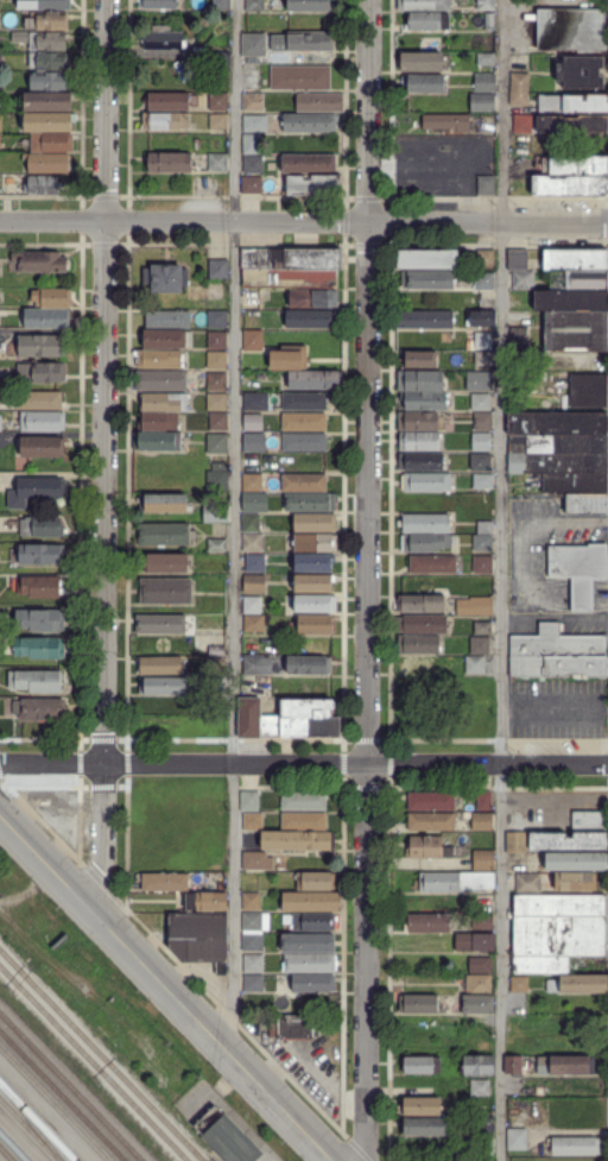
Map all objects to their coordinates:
building: (157, 2)
building: (44, 4)
building: (254, 4)
building: (222, 5)
building: (311, 5)
building: (423, 5)
building: (486, 5)
building: (46, 20)
building: (427, 21)
building: (488, 21)
building: (572, 30)
parking lot: (520, 32)
building: (43, 39)
building: (161, 40)
building: (277, 42)
building: (309, 42)
building: (255, 44)
building: (0, 58)
building: (484, 58)
building: (49, 61)
building: (218, 61)
building: (420, 62)
building: (581, 71)
building: (300, 77)
building: (50, 81)
building: (0, 82)
building: (484, 82)
building: (425, 84)
building: (519, 89)
building: (49, 101)
building: (166, 101)
building: (217, 101)
building: (254, 101)
building: (481, 101)
building: (319, 102)
building: (574, 103)
building: (165, 120)
building: (49, 121)
building: (217, 121)
building: (0, 122)
building: (255, 122)
building: (309, 122)
building: (445, 122)
building: (524, 124)
building: (572, 124)
building: (51, 143)
building: (252, 144)
building: (214, 160)
building: (47, 163)
building: (170, 163)
building: (309, 163)
building: (253, 164)
building: (576, 165)
building: (8, 184)
building: (43, 184)
building: (249, 184)
building: (313, 184)
building: (486, 185)
building: (569, 185)
parking lot: (559, 206)
road: (303, 220)
building: (291, 258)
building: (575, 258)
building: (426, 259)
building: (486, 259)
building: (517, 259)
building: (39, 261)
building: (216, 269)
building: (164, 278)
building: (289, 278)
building: (427, 279)
building: (484, 279)
building: (522, 279)
building: (578, 280)
building: (51, 297)
building: (251, 298)
building: (312, 298)
building: (571, 301)
building: (46, 317)
building: (480, 317)
building: (215, 318)
building: (308, 318)
building: (167, 320)
building: (423, 320)
building: (574, 332)
building: (166, 339)
building: (215, 339)
building: (482, 339)
building: (518, 339)
building: (251, 340)
building: (42, 346)
building: (419, 358)
building: (482, 358)
building: (158, 359)
building: (286, 359)
building: (215, 360)
building: (40, 372)
building: (313, 379)
building: (160, 380)
building: (419, 380)
building: (215, 381)
building: (479, 381)
building: (588, 390)
building: (39, 400)
building: (215, 400)
building: (254, 400)
building: (424, 400)
building: (480, 400)
building: (164, 402)
building: (304, 402)
building: (0, 417)
building: (252, 419)
building: (42, 421)
building: (158, 421)
building: (217, 421)
building: (417, 421)
building: (482, 421)
building: (303, 422)
building: (558, 423)
building: (418, 440)
building: (158, 441)
building: (304, 441)
building: (254, 442)
building: (481, 442)
building: (216, 443)
building: (558, 443)
building: (40, 447)
road: (103, 460)
building: (419, 461)
building: (479, 461)
building: (558, 462)
building: (218, 466)
building: (216, 480)
building: (482, 480)
building: (252, 481)
building: (425, 481)
building: (303, 482)
building: (575, 482)
building: (33, 491)
building: (254, 500)
building: (163, 501)
building: (310, 501)
building: (587, 503)
building: (215, 513)
building: (251, 522)
building: (313, 523)
building: (425, 523)
building: (40, 526)
building: (483, 526)
road: (234, 528)
building: (163, 534)
building: (252, 542)
building: (315, 542)
building: (424, 542)
building: (481, 543)
building: (215, 544)
building: (38, 554)
parking lot: (524, 561)
building: (165, 562)
building: (254, 562)
building: (312, 563)
building: (481, 563)
road: (522, 563)
building: (432, 564)
building: (579, 569)
road: (367, 580)
road: (503, 580)
building: (253, 582)
building: (312, 583)
building: (40, 586)
building: (165, 591)
building: (315, 604)
building: (422, 604)
building: (251, 605)
building: (474, 605)
building: (39, 620)
building: (253, 623)
building: (159, 624)
building: (315, 624)
building: (422, 624)
building: (481, 627)
building: (418, 643)
building: (479, 645)
building: (39, 648)
building: (216, 650)
building: (557, 654)
building: (159, 664)
building: (309, 664)
building: (418, 664)
building: (474, 664)
building: (214, 665)
building: (252, 665)
building: (38, 681)
building: (164, 684)
building: (215, 684)
parking lot: (558, 708)
building: (42, 709)
building: (287, 719)
road: (304, 762)
building: (46, 797)
building: (249, 800)
building: (304, 800)
building: (484, 800)
building: (432, 801)
building: (467, 815)
building: (590, 820)
building: (253, 821)
building: (304, 821)
building: (432, 821)
building: (482, 821)
building: (298, 840)
building: (569, 840)
building: (517, 841)
building: (427, 847)
building: (258, 859)
building: (483, 859)
building: (576, 860)
building: (165, 881)
building: (316, 881)
building: (456, 881)
building: (575, 881)
building: (527, 882)
building: (207, 901)
building: (252, 901)
building: (311, 901)
building: (252, 921)
building: (482, 921)
building: (313, 922)
building: (429, 922)
building: (558, 928)
building: (199, 938)
building: (251, 941)
building: (309, 942)
building: (476, 942)
building: (253, 963)
building: (310, 963)
building: (481, 964)
building: (313, 982)
building: (254, 983)
building: (479, 983)
building: (520, 983)
building: (584, 983)
road: (167, 989)
building: (418, 1003)
building: (479, 1003)
building: (296, 1026)
railway: (101, 1055)
railway: (94, 1062)
building: (568, 1064)
building: (422, 1065)
building: (479, 1065)
building: (514, 1065)
parking lot: (310, 1069)
railway: (71, 1086)
building: (480, 1089)
railway: (62, 1096)
railway: (55, 1104)
building: (418, 1106)
railway: (38, 1121)
railway: (31, 1122)
building: (425, 1127)
building: (487, 1127)
railway: (30, 1129)
building: (226, 1137)
power substation: (226, 1137)
building: (518, 1140)
building: (574, 1146)
railway: (13, 1147)
railway: (5, 1154)

